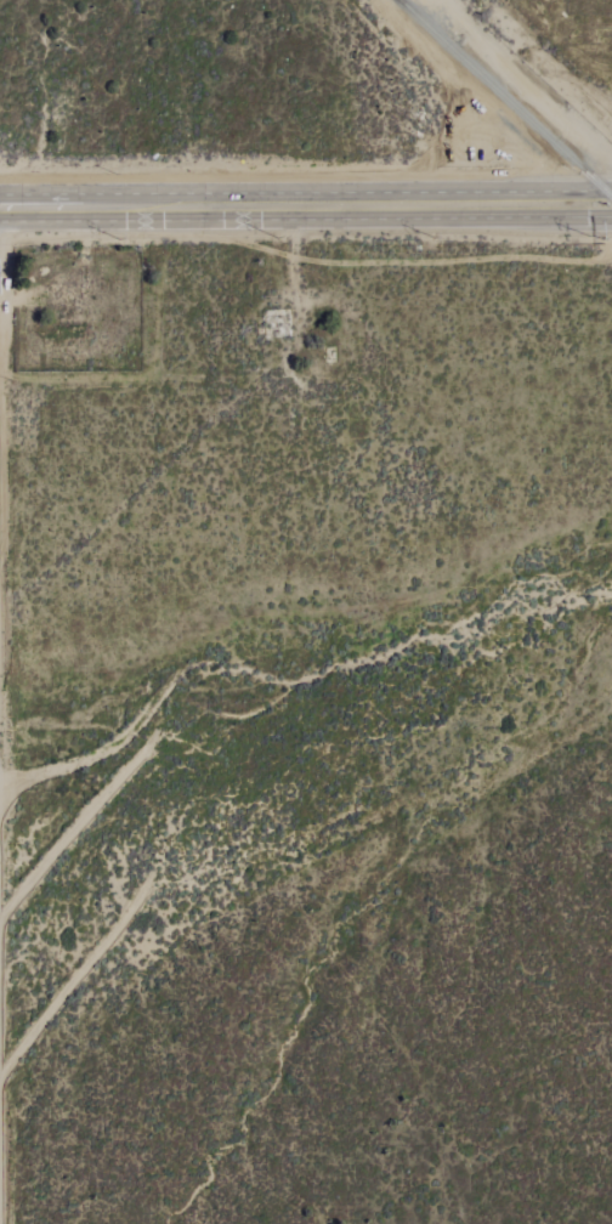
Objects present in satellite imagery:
railway: (505, 98)
road: (596, 191)
road: (574, 198)
road: (283, 205)
road: (577, 211)
road: (600, 216)

